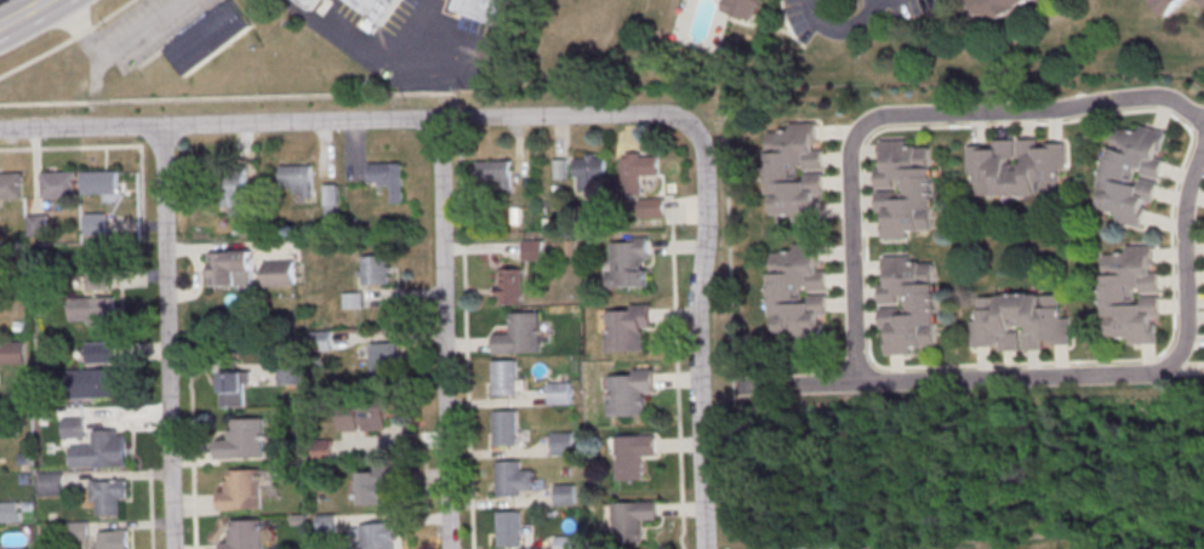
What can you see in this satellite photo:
road: (841, 0)
building: (1203, 0)
building: (309, 4)
building: (1168, 6)
building: (741, 7)
building: (998, 7)
building: (377, 8)
road: (296, 10)
building: (484, 10)
road: (22, 12)
road: (114, 15)
road: (84, 36)
building: (209, 36)
road: (114, 55)
road: (36, 62)
road: (381, 73)
road: (347, 120)
building: (1017, 168)
building: (638, 170)
building: (590, 171)
building: (493, 173)
building: (795, 176)
building: (387, 177)
building: (1131, 178)
building: (298, 179)
building: (99, 182)
building: (11, 184)
building: (56, 184)
building: (236, 188)
building: (905, 191)
building: (331, 199)
building: (650, 207)
building: (95, 223)
building: (35, 224)
building: (532, 250)
building: (628, 262)
building: (373, 269)
building: (232, 270)
building: (279, 273)
building: (96, 280)
building: (509, 285)
building: (799, 297)
building: (1131, 298)
building: (353, 299)
building: (908, 309)
building: (93, 313)
building: (1021, 326)
building: (628, 331)
road: (443, 333)
road: (165, 337)
building: (520, 337)
road: (697, 337)
building: (321, 339)
road: (466, 343)
road: (852, 348)
building: (13, 355)
building: (101, 356)
building: (383, 356)
building: (290, 373)
building: (506, 381)
building: (95, 387)
building: (235, 388)
road: (801, 388)
building: (633, 393)
building: (559, 395)
building: (361, 416)
road: (777, 429)
building: (74, 430)
building: (506, 431)
building: (249, 441)
building: (564, 445)
building: (323, 453)
building: (101, 454)
building: (633, 458)
road: (760, 462)
road: (963, 471)
road: (1188, 474)
building: (510, 481)
building: (377, 484)
building: (51, 486)
building: (244, 494)
building: (565, 497)
building: (110, 501)
building: (11, 514)
building: (633, 522)
building: (510, 531)
building: (247, 536)
building: (376, 536)
building: (113, 541)
building: (565, 543)

